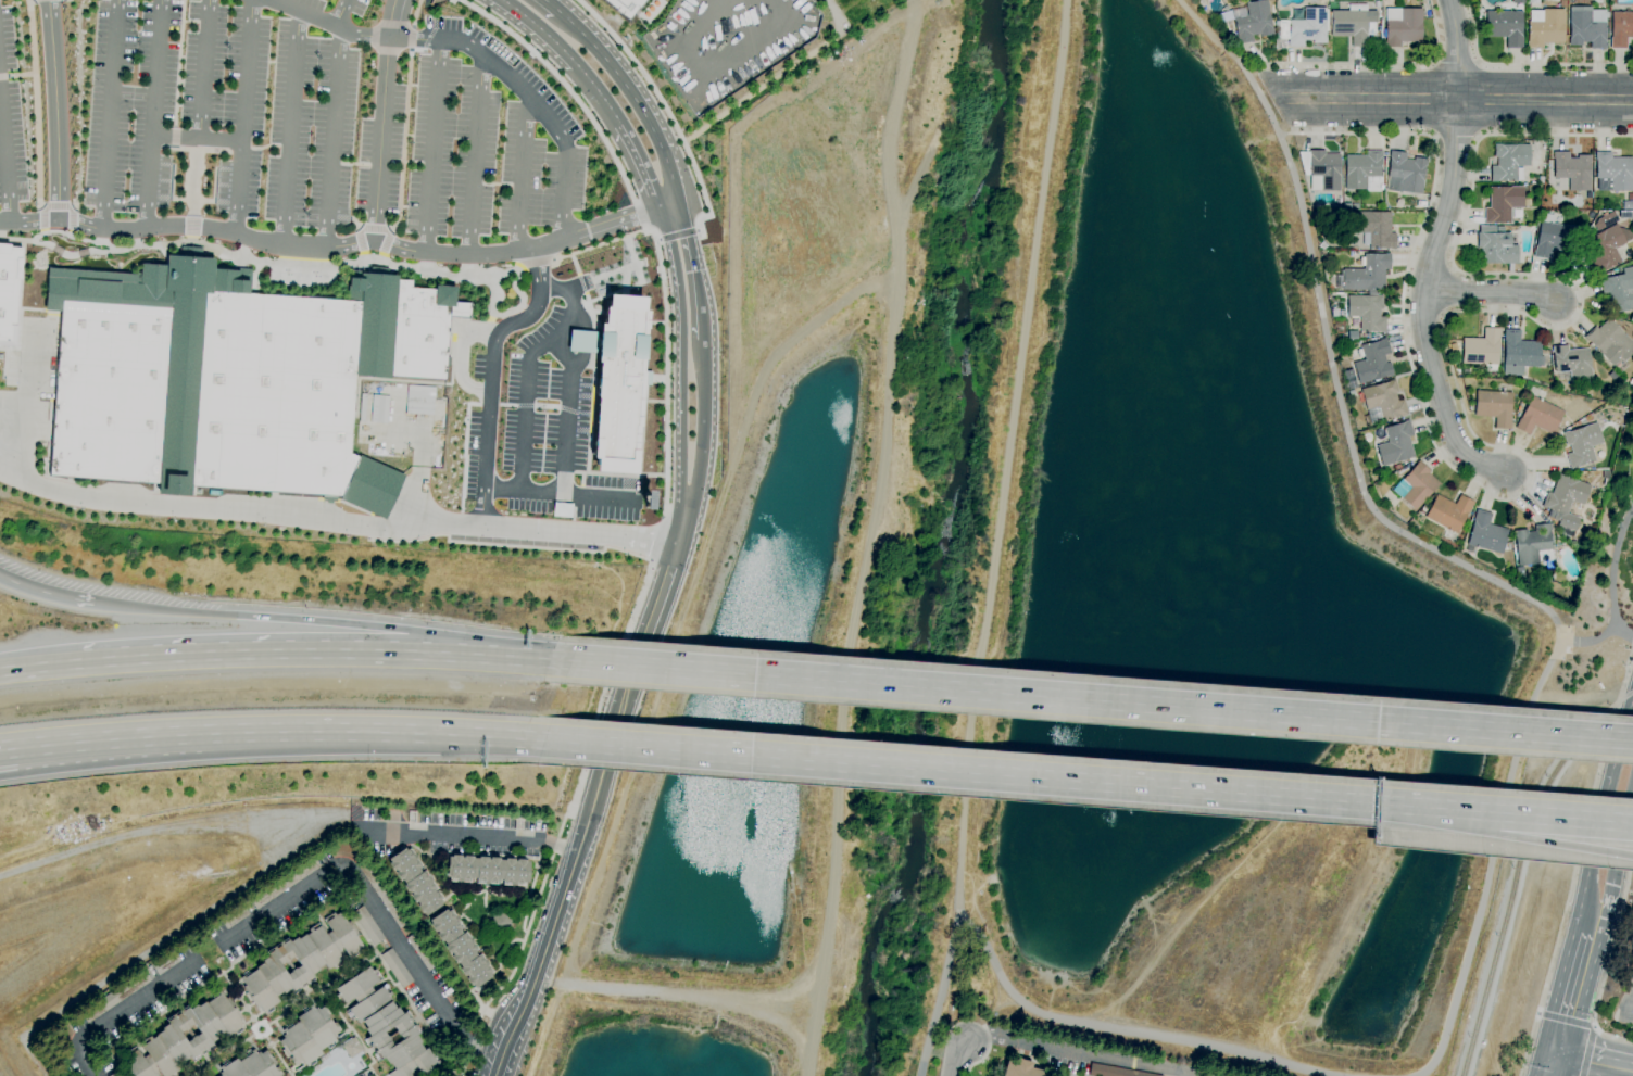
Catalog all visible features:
building: (1518, 1)
building: (1562, 3)
road: (550, 5)
building: (623, 5)
road: (413, 12)
road: (341, 13)
road: (392, 18)
building: (1253, 21)
building: (1354, 24)
road: (393, 25)
building: (1403, 26)
building: (1504, 26)
building: (1586, 26)
building: (1545, 27)
building: (1302, 28)
building: (1620, 28)
road: (1435, 29)
road: (1208, 30)
road: (429, 34)
road: (374, 36)
road: (410, 38)
road: (385, 49)
road: (1456, 49)
road: (416, 50)
road: (480, 54)
road: (567, 55)
road: (1457, 62)
road: (177, 63)
road: (1345, 63)
road: (1523, 63)
road: (203, 68)
road: (18, 75)
road: (2, 76)
road: (775, 78)
road: (632, 99)
road: (1372, 99)
road: (1545, 99)
road: (34, 104)
road: (665, 109)
road: (55, 110)
road: (109, 115)
road: (153, 115)
road: (241, 116)
road: (1286, 123)
road: (290, 128)
road: (172, 137)
road: (196, 137)
road: (381, 138)
road: (334, 139)
road: (402, 141)
road: (429, 144)
road: (269, 145)
road: (193, 150)
road: (239, 150)
road: (472, 154)
building: (1509, 162)
road: (644, 165)
building: (1321, 169)
building: (1362, 169)
building: (1573, 170)
road: (4, 173)
building: (1612, 173)
road: (518, 174)
building: (1405, 174)
road: (191, 182)
road: (734, 183)
building: (1504, 203)
building: (1628, 204)
building: (1349, 205)
road: (56, 206)
road: (670, 206)
building: (1605, 220)
road: (611, 223)
road: (353, 225)
road: (190, 226)
road: (357, 226)
road: (374, 227)
building: (1486, 228)
road: (389, 229)
building: (1377, 229)
road: (678, 235)
building: (1555, 237)
road: (190, 238)
road: (657, 239)
road: (359, 240)
road: (385, 242)
road: (600, 244)
road: (280, 246)
building: (1607, 246)
building: (1498, 249)
road: (363, 254)
road: (381, 257)
flagpole: (188, 261)
road: (536, 262)
road: (289, 264)
road: (519, 269)
road: (693, 271)
road: (22, 274)
building: (1366, 275)
building: (8, 291)
building: (1618, 291)
road: (1491, 293)
road: (492, 296)
road: (569, 302)
road: (1423, 302)
road: (36, 308)
building: (1368, 312)
building: (1631, 317)
road: (489, 318)
road: (485, 328)
road: (585, 343)
building: (1610, 343)
road: (2, 347)
road: (16, 347)
building: (1482, 350)
building: (1520, 353)
road: (681, 356)
road: (457, 359)
building: (1373, 362)
building: (1572, 364)
road: (489, 371)
building: (1612, 375)
building: (234, 378)
road: (665, 379)
building: (1351, 379)
road: (20, 381)
building: (615, 381)
road: (25, 391)
building: (1351, 393)
road: (42, 394)
building: (420, 401)
building: (1382, 402)
building: (1494, 407)
building: (378, 408)
road: (524, 412)
road: (566, 415)
building: (1538, 416)
road: (1465, 418)
road: (703, 423)
building: (1396, 444)
building: (1582, 444)
road: (1009, 448)
building: (1605, 474)
road: (1360, 479)
building: (1416, 485)
road: (522, 494)
road: (592, 498)
building: (1565, 501)
building: (1448, 511)
road: (337, 522)
road: (682, 526)
building: (1485, 533)
road: (867, 536)
river: (941, 540)
building: (1534, 544)
building: (548, 546)
building: (1520, 572)
road: (43, 593)
road: (687, 596)
road: (1616, 596)
road: (661, 597)
park: (1604, 598)
railway: (1610, 610)
road: (315, 620)
road: (1625, 633)
road: (300, 651)
road: (554, 658)
road: (30, 667)
road: (1628, 674)
road: (1101, 700)
road: (296, 731)
road: (616, 731)
railway: (1590, 733)
road: (25, 745)
street lamp: (367, 759)
road: (27, 764)
road: (959, 771)
road: (1416, 807)
railway: (1542, 809)
road: (1605, 812)
building: (411, 815)
road: (1544, 815)
road: (306, 830)
parking lot: (449, 832)
street lamp: (565, 832)
road: (1503, 833)
road: (442, 835)
road: (51, 837)
road: (1541, 840)
road: (558, 847)
road: (1617, 866)
building: (487, 870)
building: (415, 881)
road: (251, 883)
building: (284, 883)
road: (1572, 884)
road: (529, 887)
building: (382, 894)
road: (504, 894)
road: (483, 904)
road: (370, 908)
building: (234, 916)
building: (500, 922)
building: (367, 925)
street lamp: (532, 931)
road: (1590, 931)
building: (460, 947)
road: (545, 947)
building: (419, 950)
road: (505, 951)
road: (518, 951)
road: (244, 953)
railway: (1494, 958)
building: (300, 961)
building: (164, 962)
road: (1606, 966)
building: (397, 967)
road: (505, 969)
building: (1631, 971)
road: (1464, 974)
road: (643, 991)
road: (1571, 993)
building: (114, 996)
road: (289, 1003)
road: (1628, 1003)
road: (1025, 1007)
road: (120, 1011)
parking lot: (1626, 1016)
road: (1565, 1021)
building: (382, 1022)
road: (786, 1028)
road: (265, 1031)
building: (168, 1035)
building: (306, 1036)
road: (348, 1038)
building: (351, 1047)
road: (225, 1048)
road: (1081, 1051)
road: (1587, 1051)
road: (985, 1052)
traffic signals: (1554, 1053)
road: (276, 1054)
road: (957, 1055)
road: (1593, 1060)
road: (1550, 1064)
building: (250, 1065)
building: (403, 1069)
building: (1021, 1069)
road: (448, 1071)
road: (198, 1072)
building: (1114, 1072)
building: (114, 1074)

